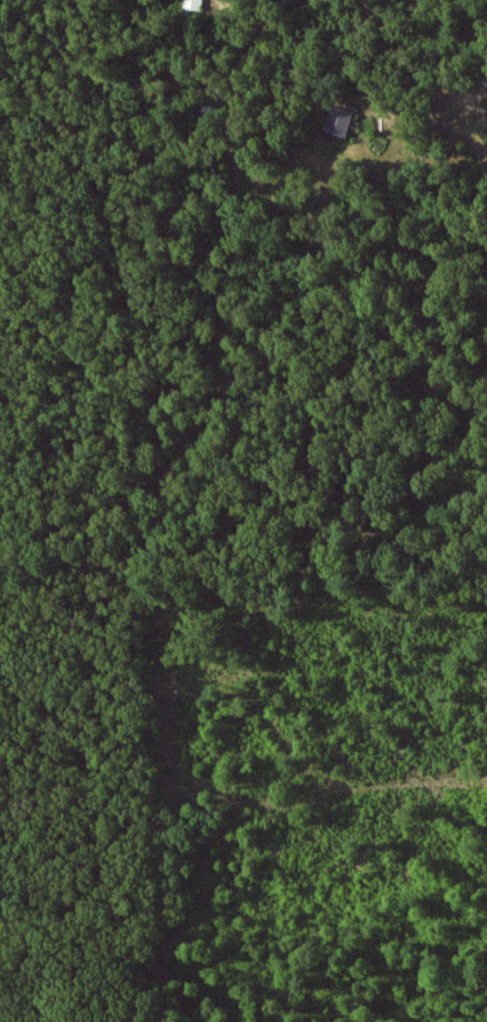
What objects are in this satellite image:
building: (190, 5)
building: (338, 122)

